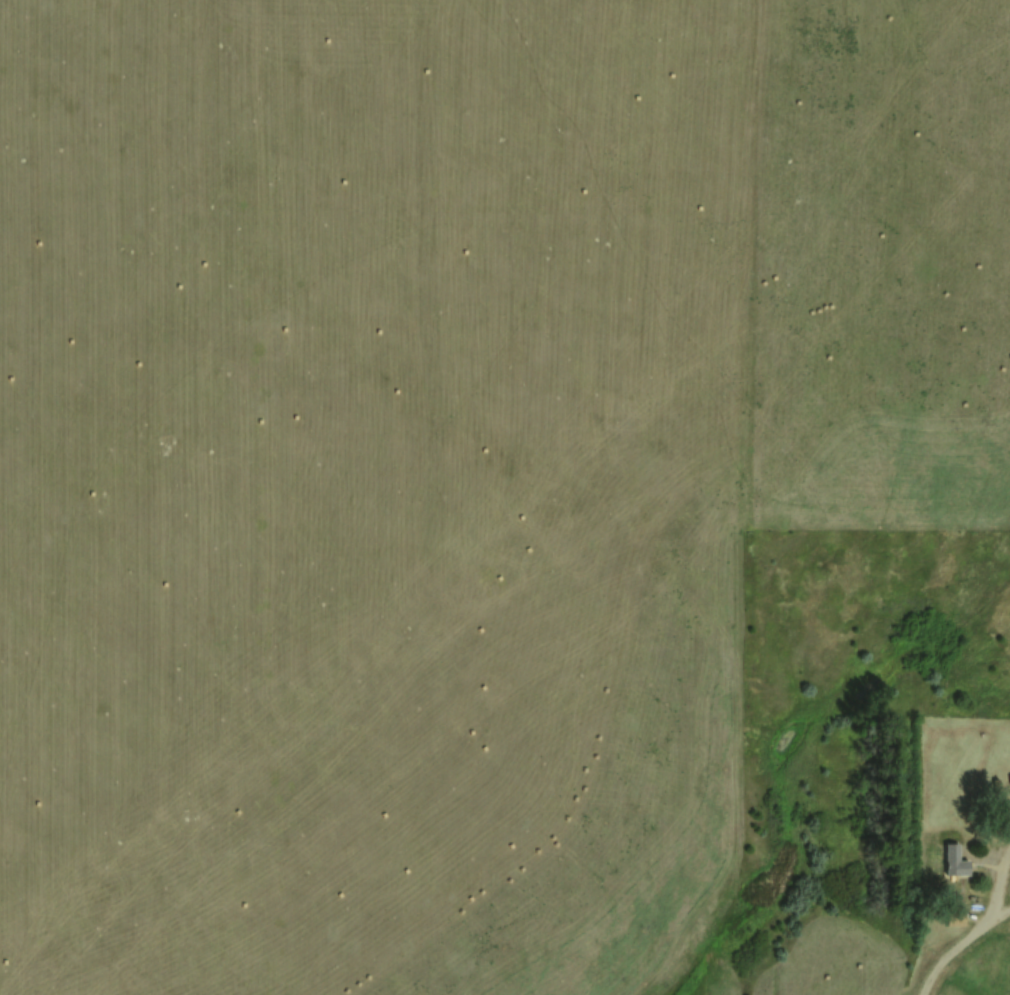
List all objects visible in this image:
building: (898, 232)
building: (919, 328)
building: (879, 365)
building: (950, 471)
building: (952, 858)
building: (954, 915)

